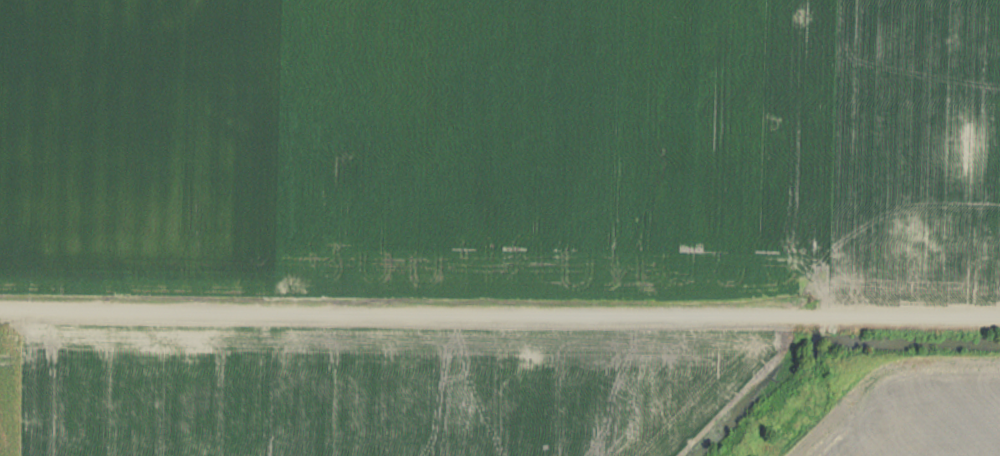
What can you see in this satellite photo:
road: (499, 317)

